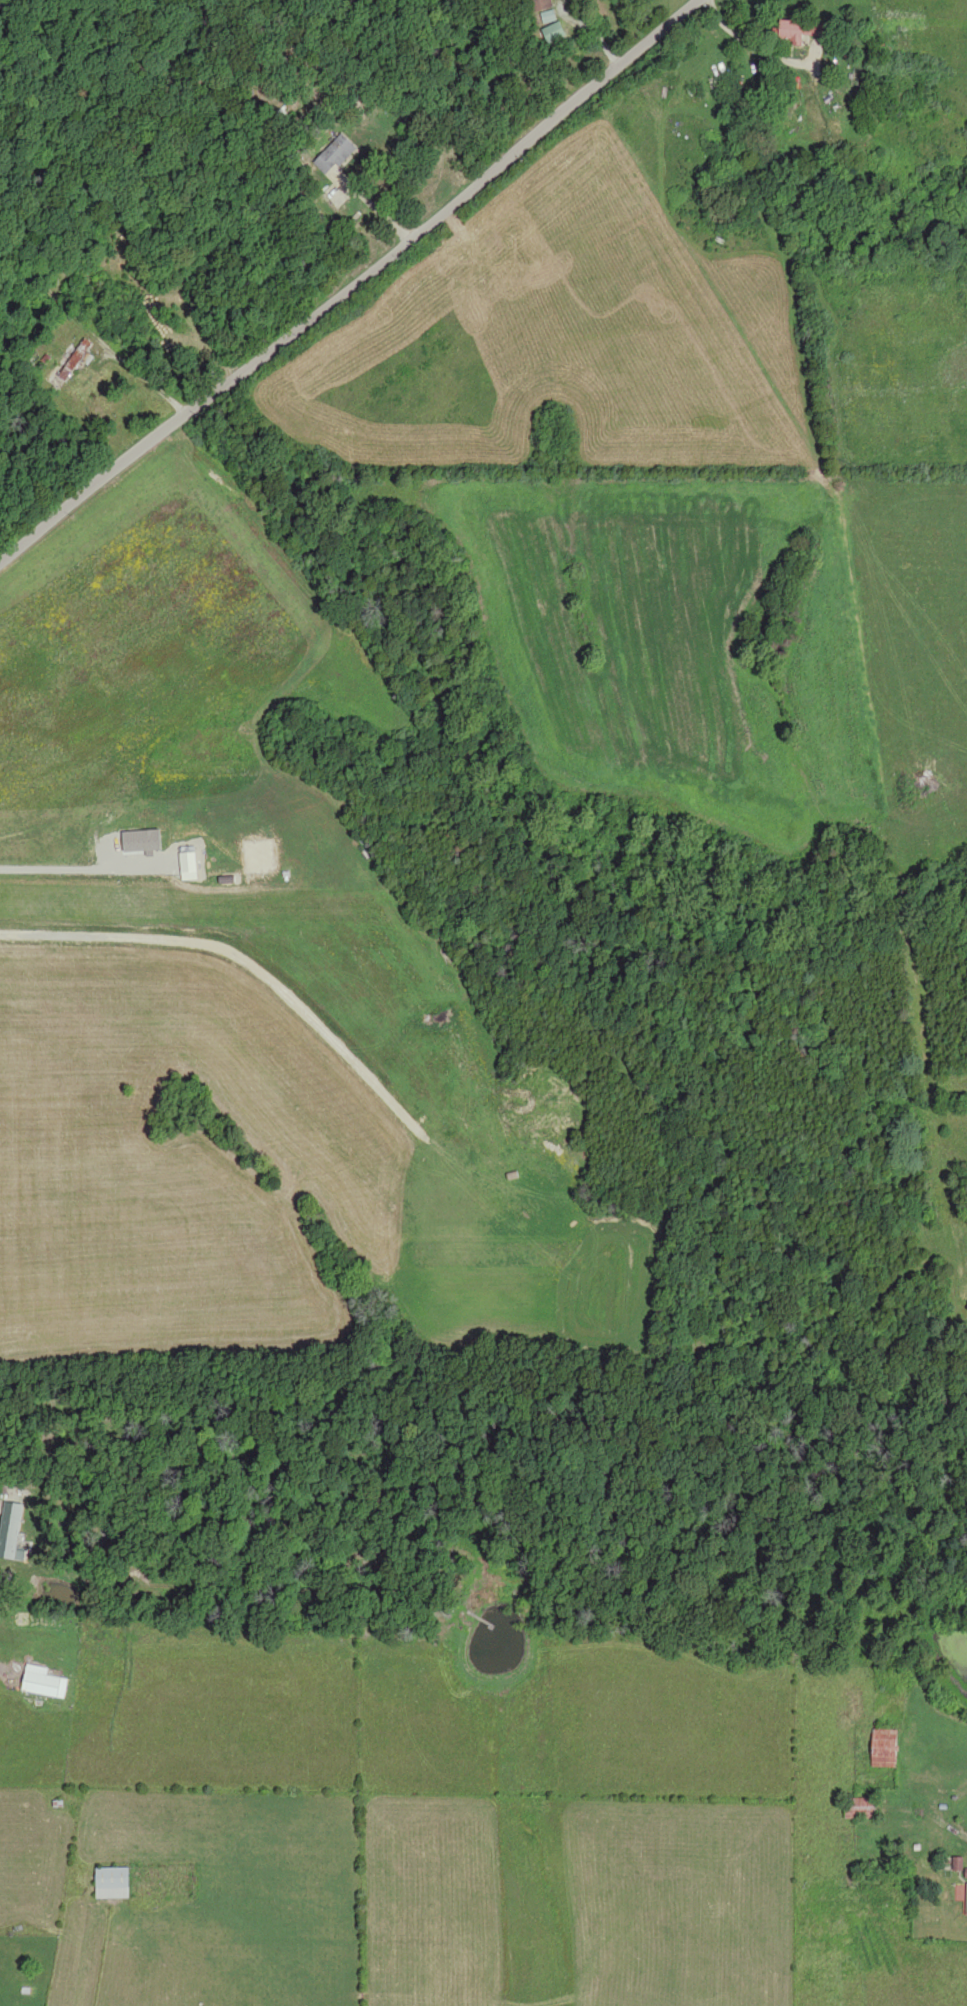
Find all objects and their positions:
building: (544, 8)
building: (804, 31)
building: (557, 33)
building: (337, 155)
road: (326, 272)
building: (79, 360)
building: (12, 1531)
building: (44, 1683)
building: (890, 1749)
building: (864, 1809)
building: (116, 1884)

